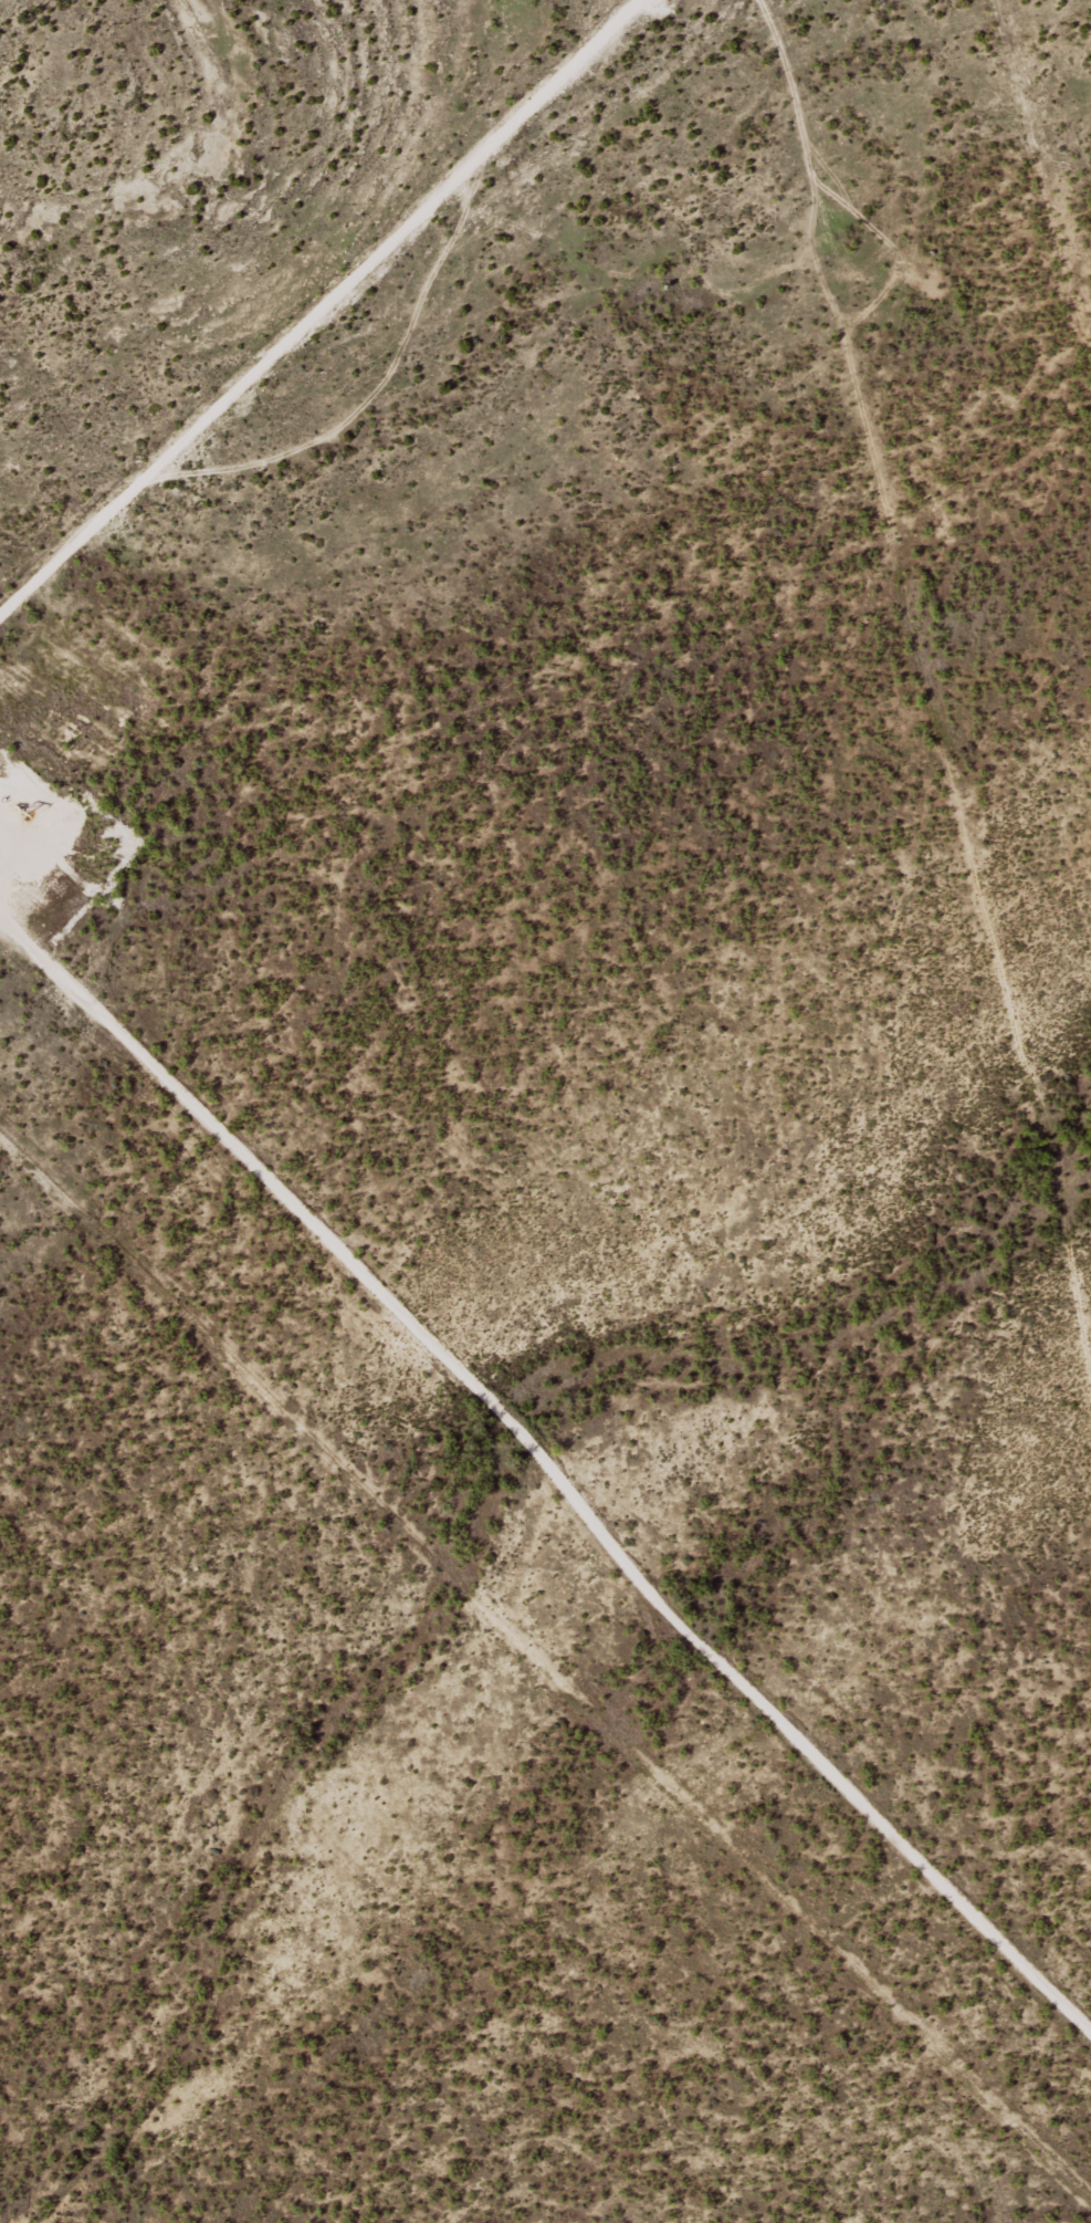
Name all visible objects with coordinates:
road: (526, 1450)

